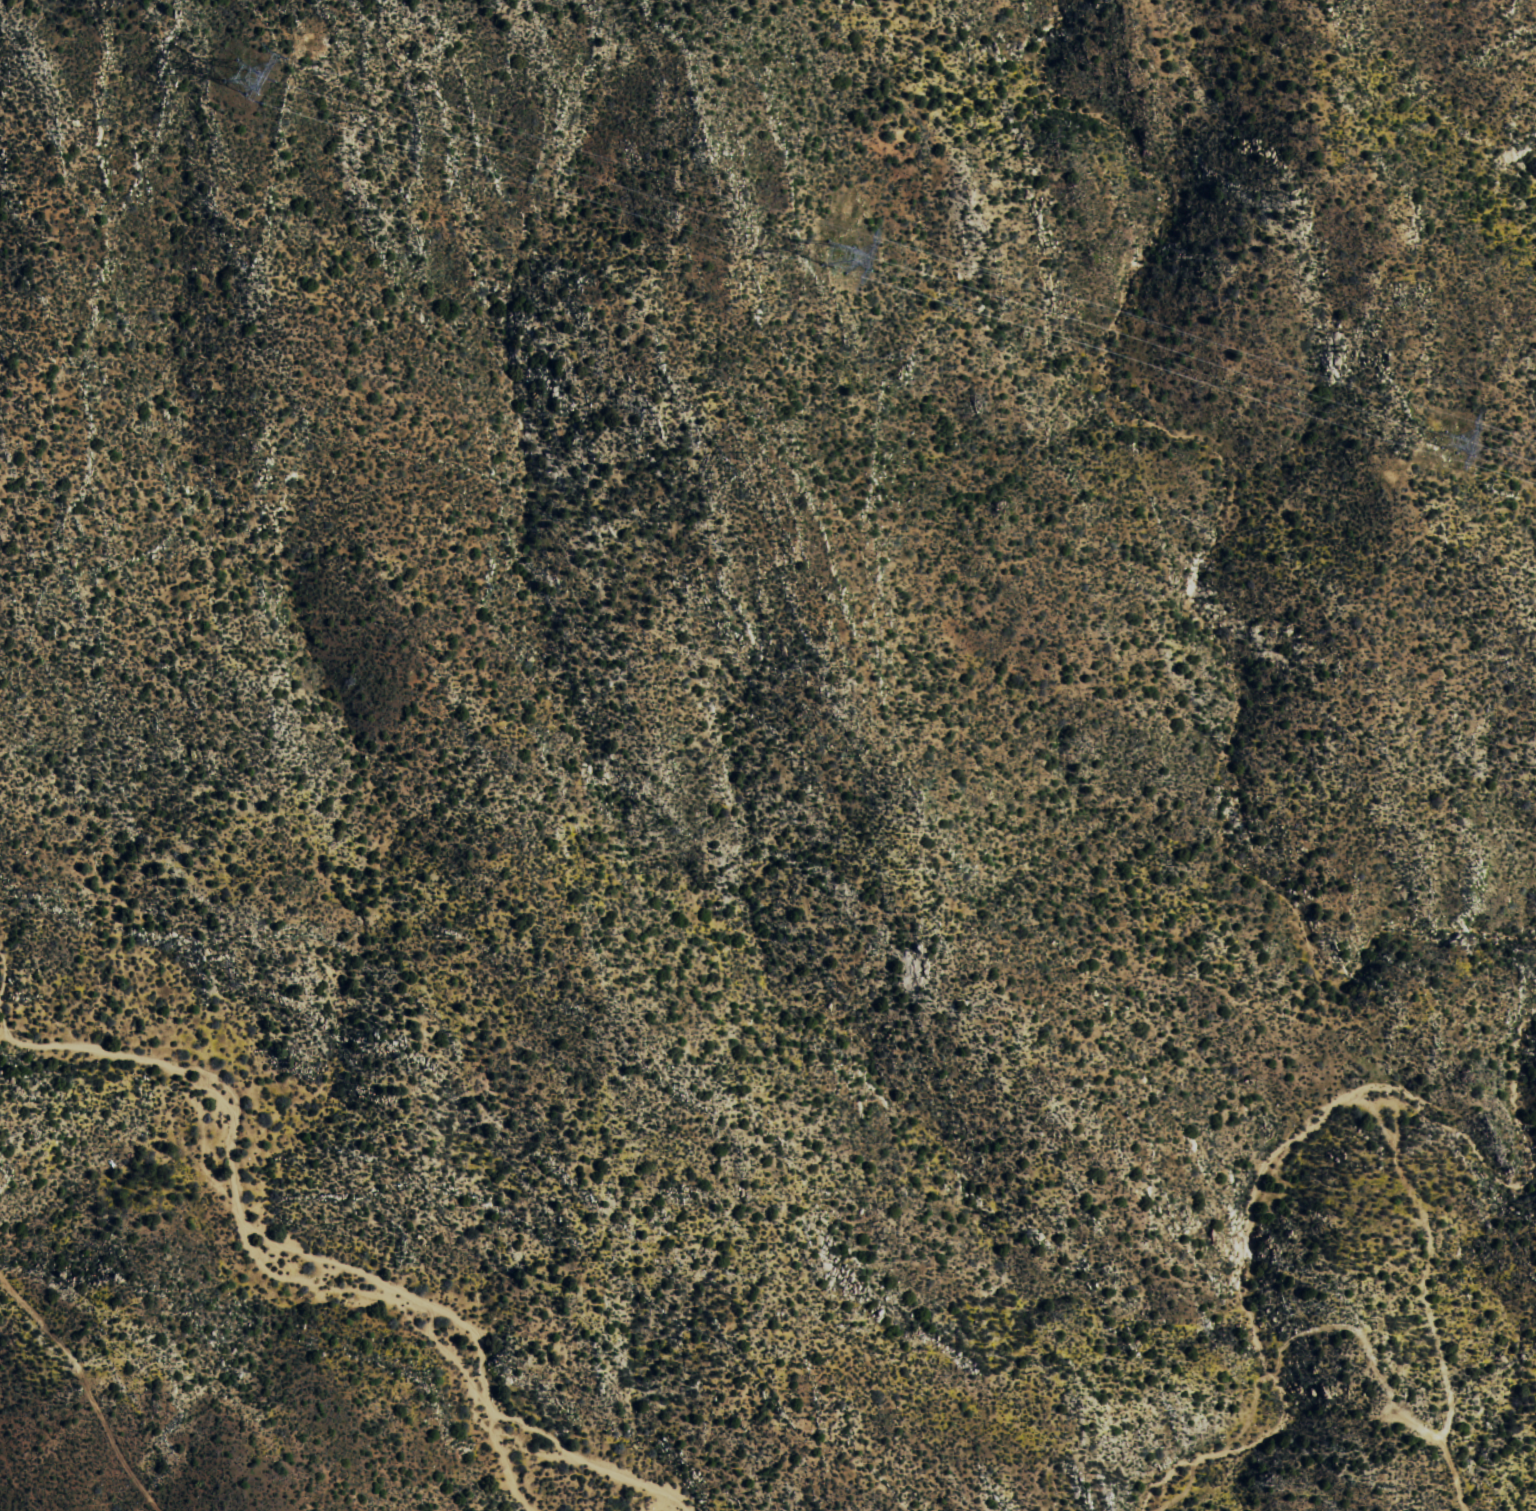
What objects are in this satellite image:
power tower: (234, 80)
power tower: (828, 253)
power tower: (1443, 452)

